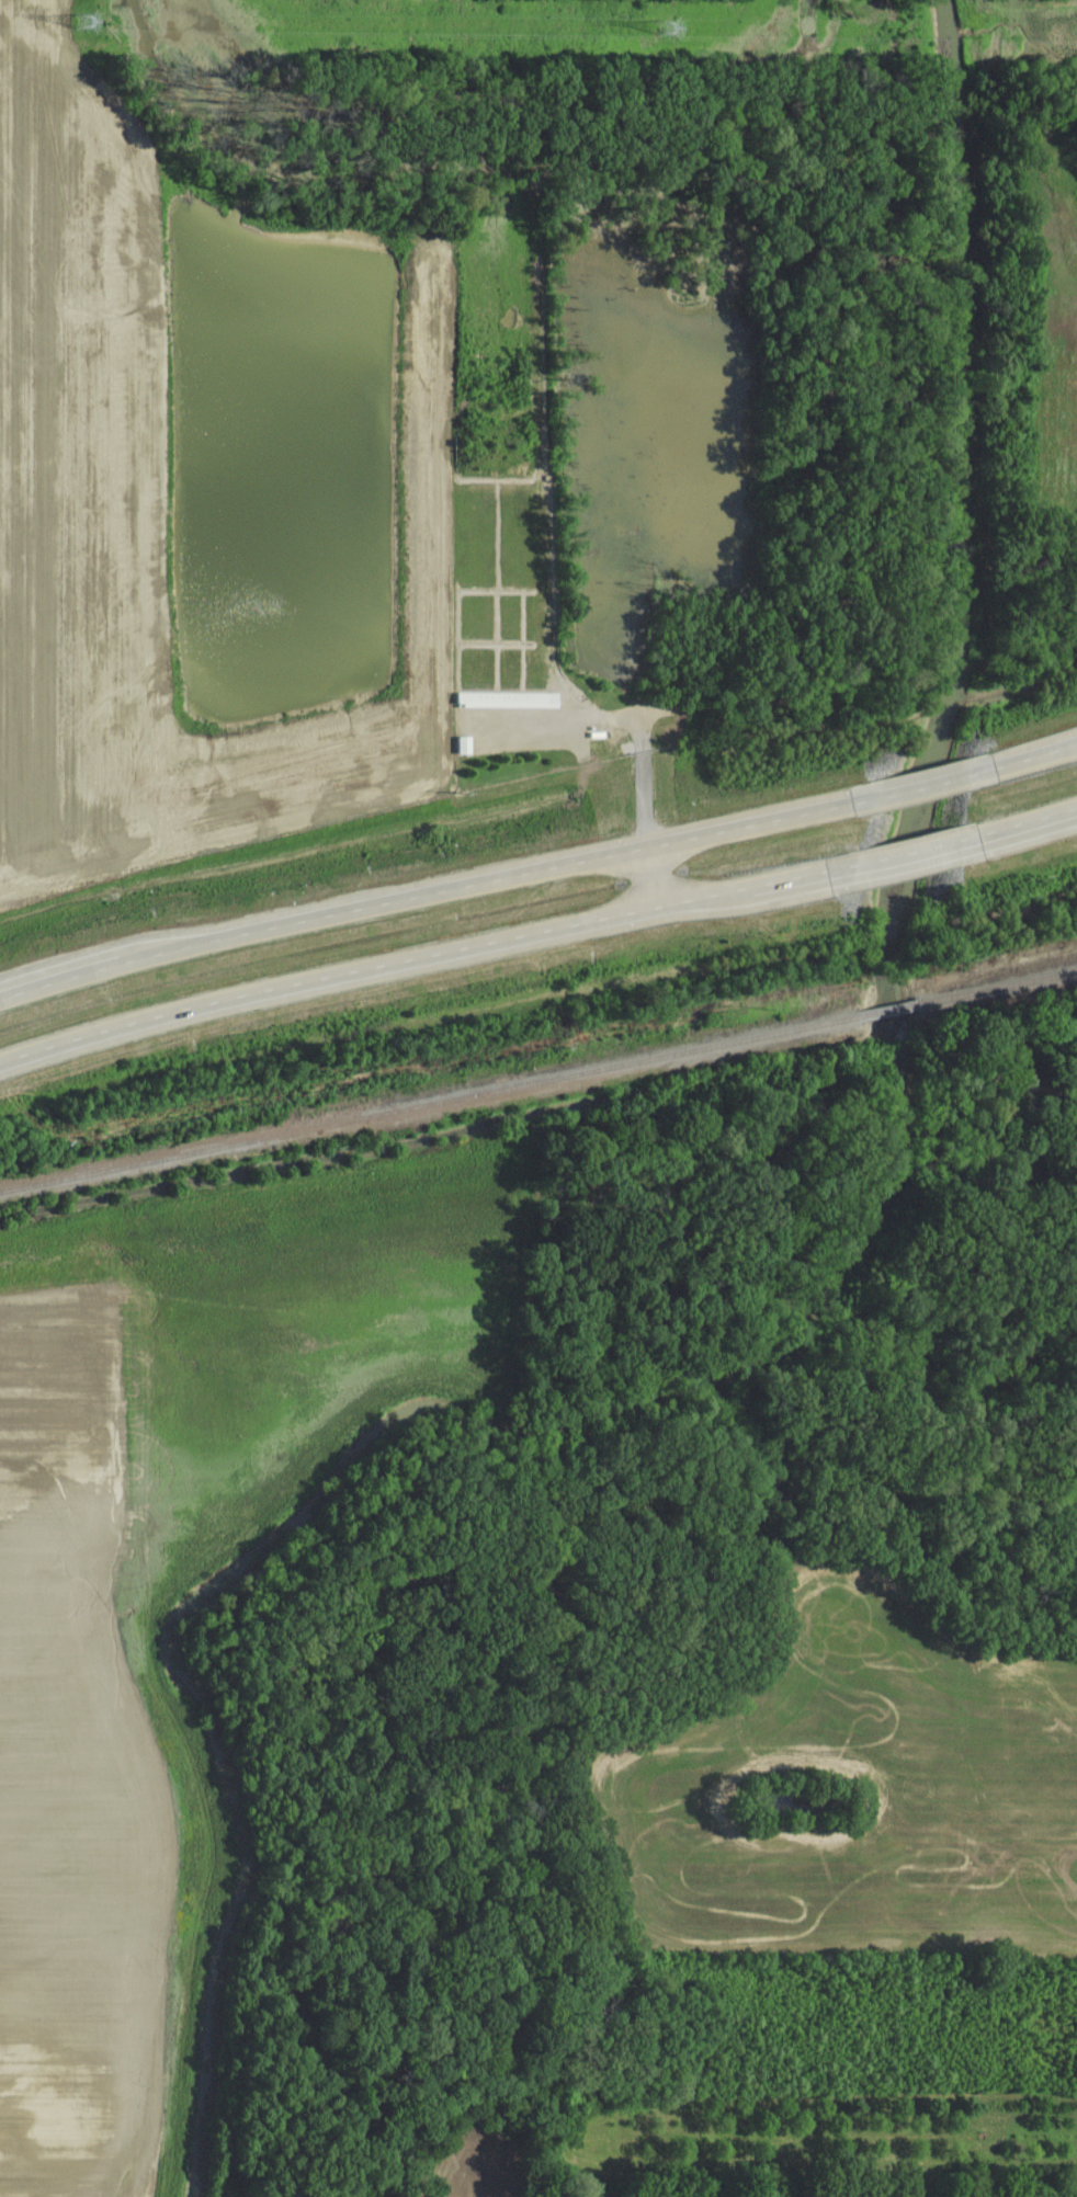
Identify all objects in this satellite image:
power tower: (86, 32)
power tower: (664, 38)
building: (511, 699)
road: (576, 720)
road: (1033, 756)
road: (921, 785)
road: (1025, 823)
road: (647, 828)
road: (917, 852)
road: (426, 895)
road: (427, 954)
railway: (999, 987)
railway: (891, 1010)
railway: (429, 1104)

